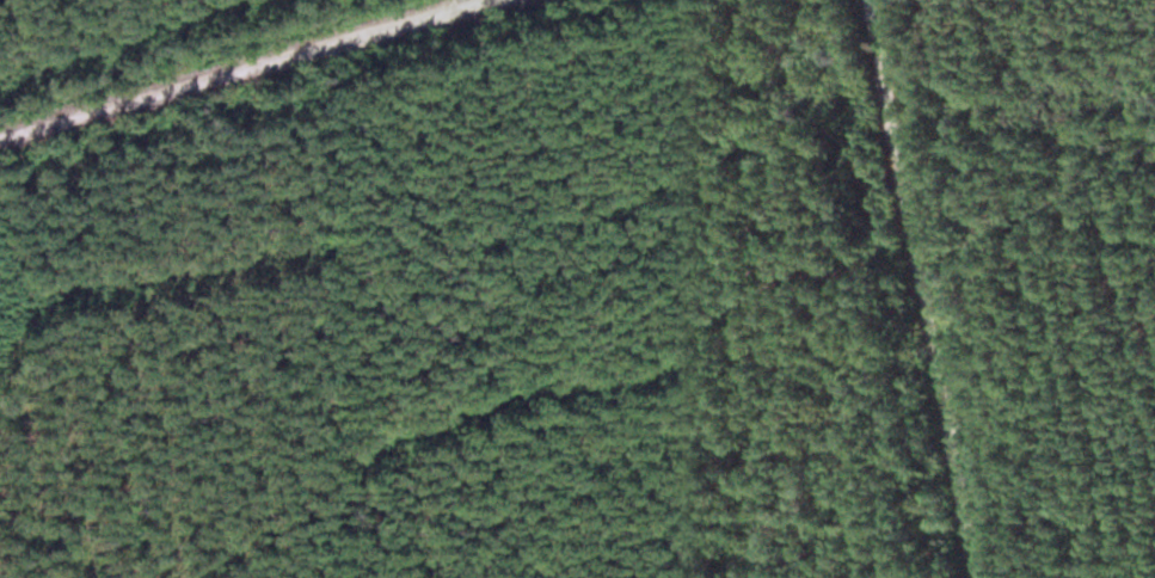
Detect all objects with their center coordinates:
road: (260, 73)
road: (939, 289)

